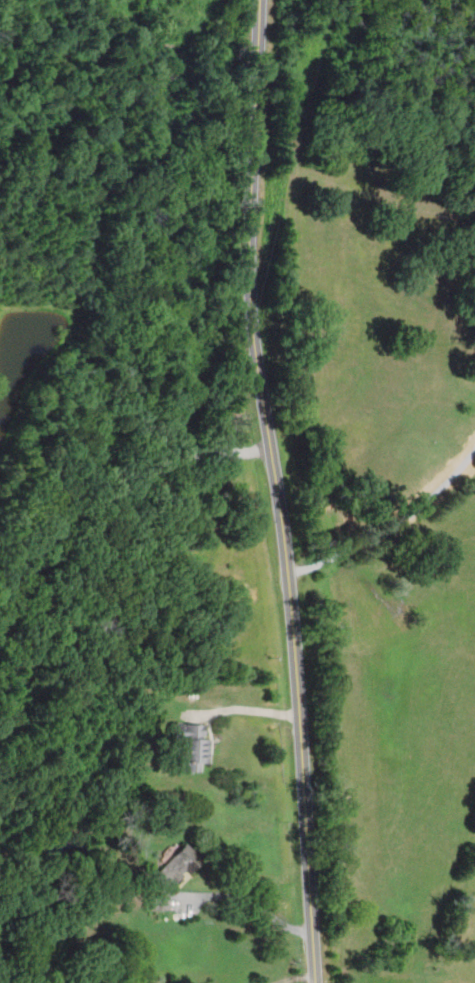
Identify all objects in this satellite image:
road: (275, 491)
road: (116, 497)
road: (387, 528)
road: (247, 712)
building: (191, 744)
building: (176, 868)
road: (250, 899)
road: (290, 976)

